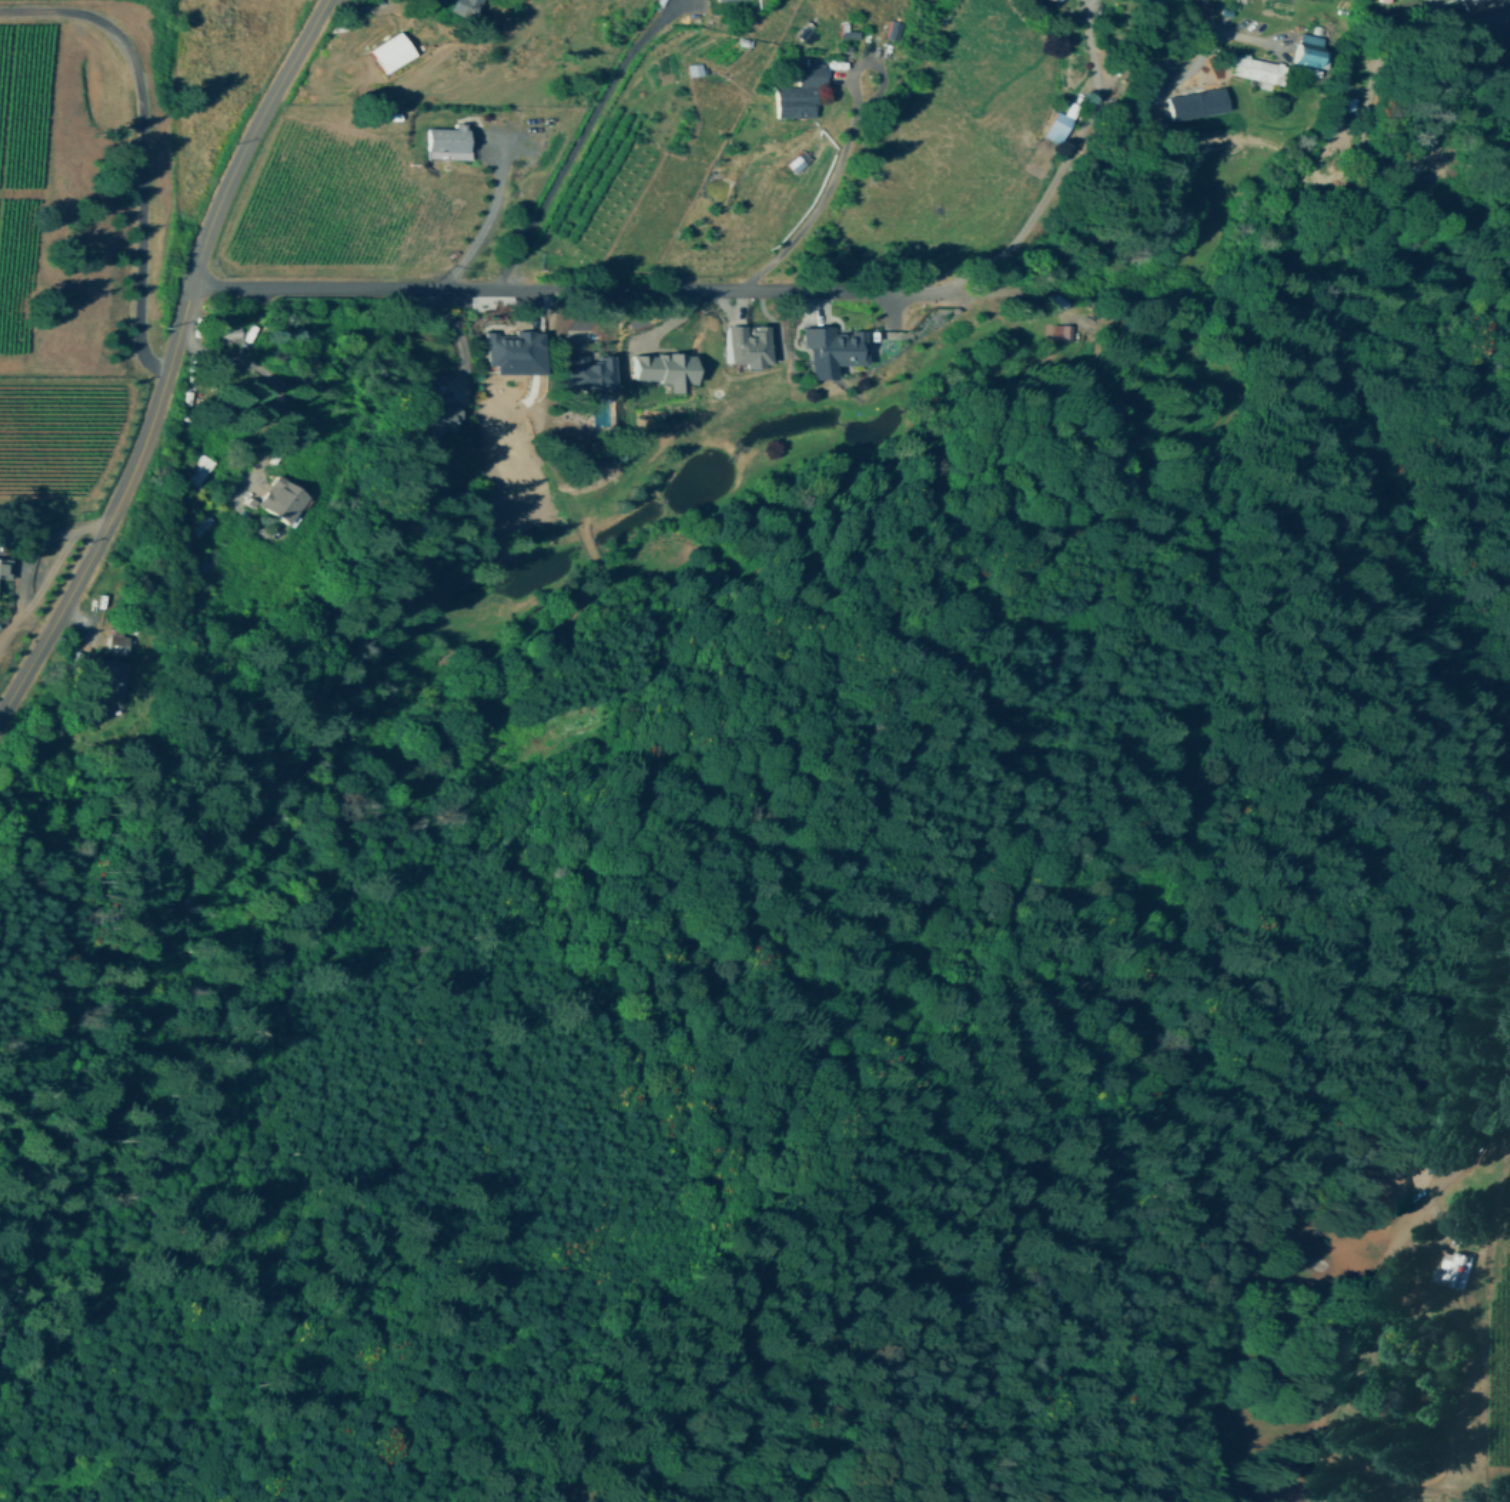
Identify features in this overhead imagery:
building: (1057, 0)
building: (1476, 1)
building: (467, 7)
road: (375, 9)
road: (1207, 16)
building: (1311, 49)
building: (393, 50)
building: (1259, 67)
building: (695, 68)
building: (802, 92)
building: (1198, 102)
road: (263, 113)
building: (1061, 123)
road: (588, 136)
building: (449, 141)
road: (141, 148)
building: (799, 160)
road: (830, 190)
road: (484, 226)
road: (618, 289)
building: (1062, 331)
building: (231, 333)
road: (457, 333)
building: (748, 344)
building: (833, 348)
building: (516, 350)
building: (665, 368)
building: (588, 371)
road: (271, 380)
building: (441, 417)
building: (200, 468)
road: (125, 480)
building: (283, 498)
building: (5, 567)
building: (119, 643)
crop: (17, 654)
building: (113, 680)
building: (1453, 1269)
road: (1368, 1294)

